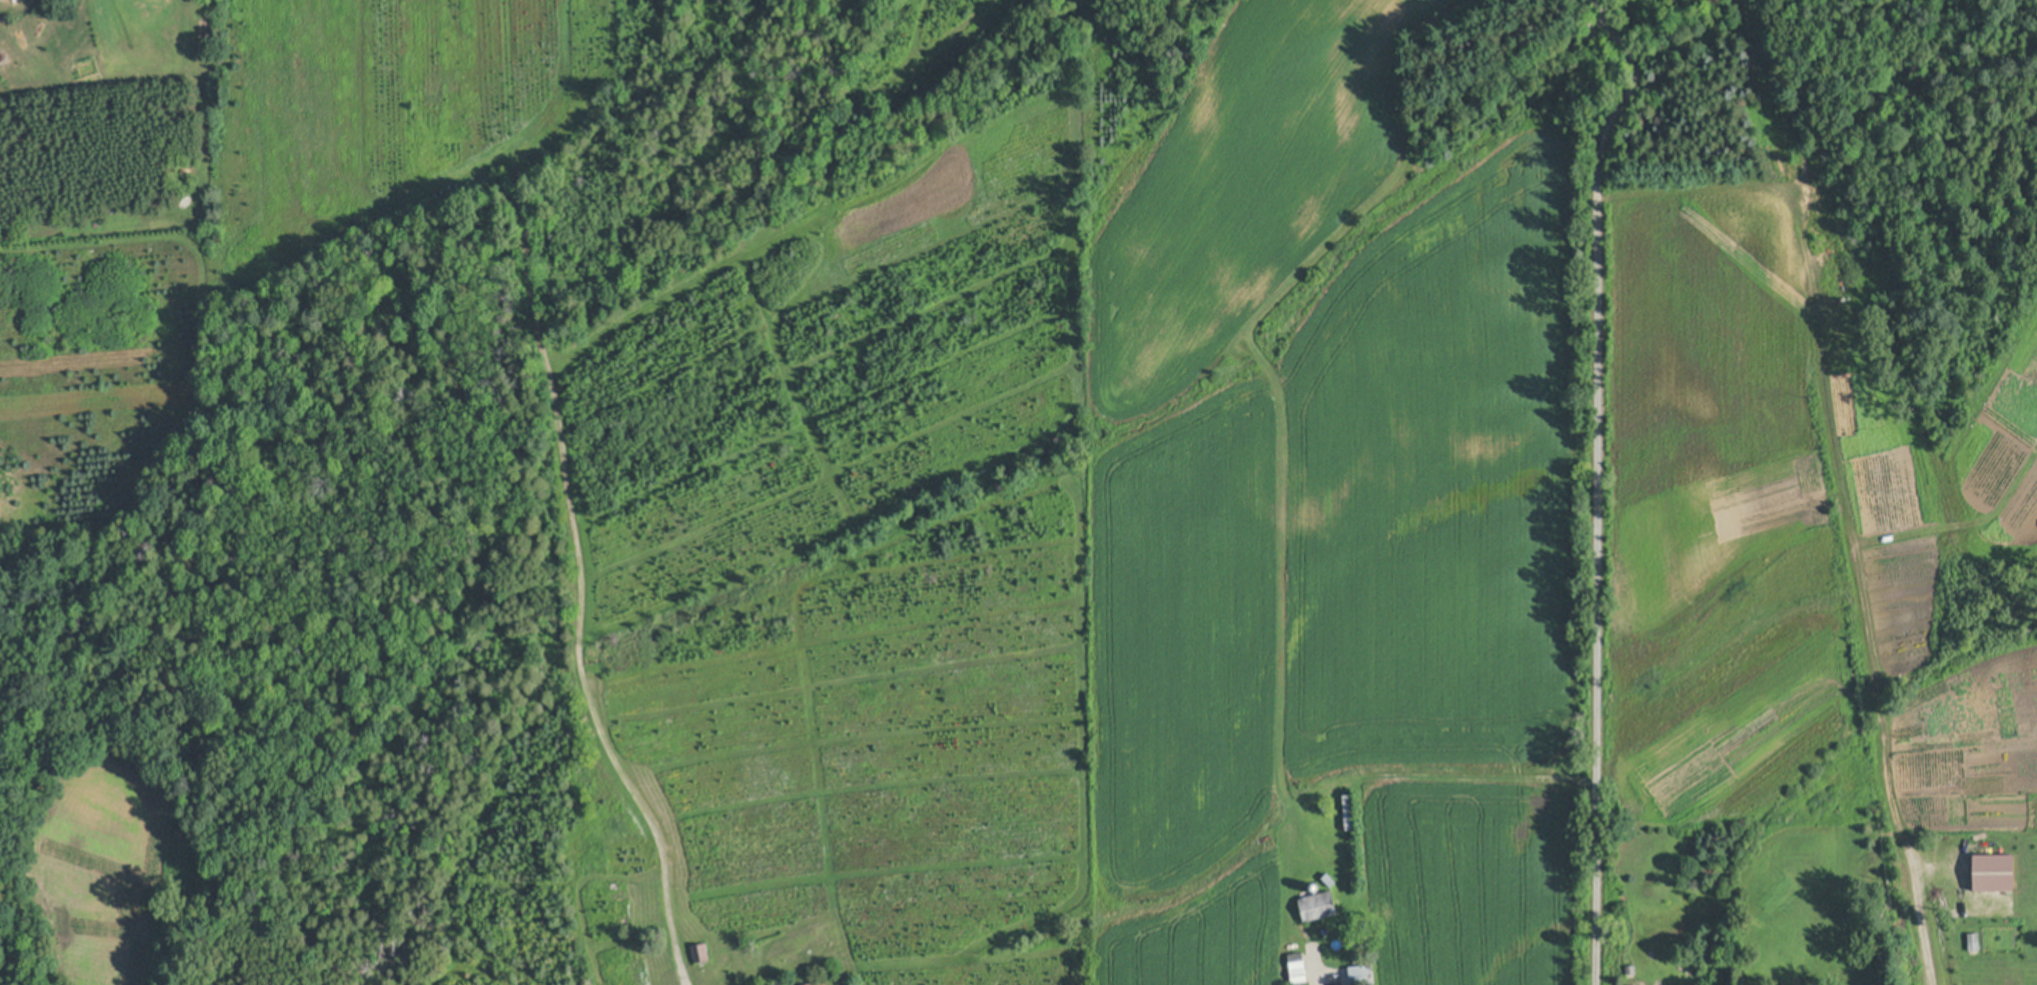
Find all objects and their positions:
building: (0, 0)
building: (1591, 27)
road: (1597, 485)
building: (2001, 873)
building: (1330, 880)
building: (1316, 885)
building: (1317, 905)
road: (1927, 921)
building: (1294, 933)
building: (701, 952)
road: (683, 966)
building: (1298, 968)
road: (1316, 968)
building: (1885, 969)
building: (1362, 974)
building: (808, 983)

